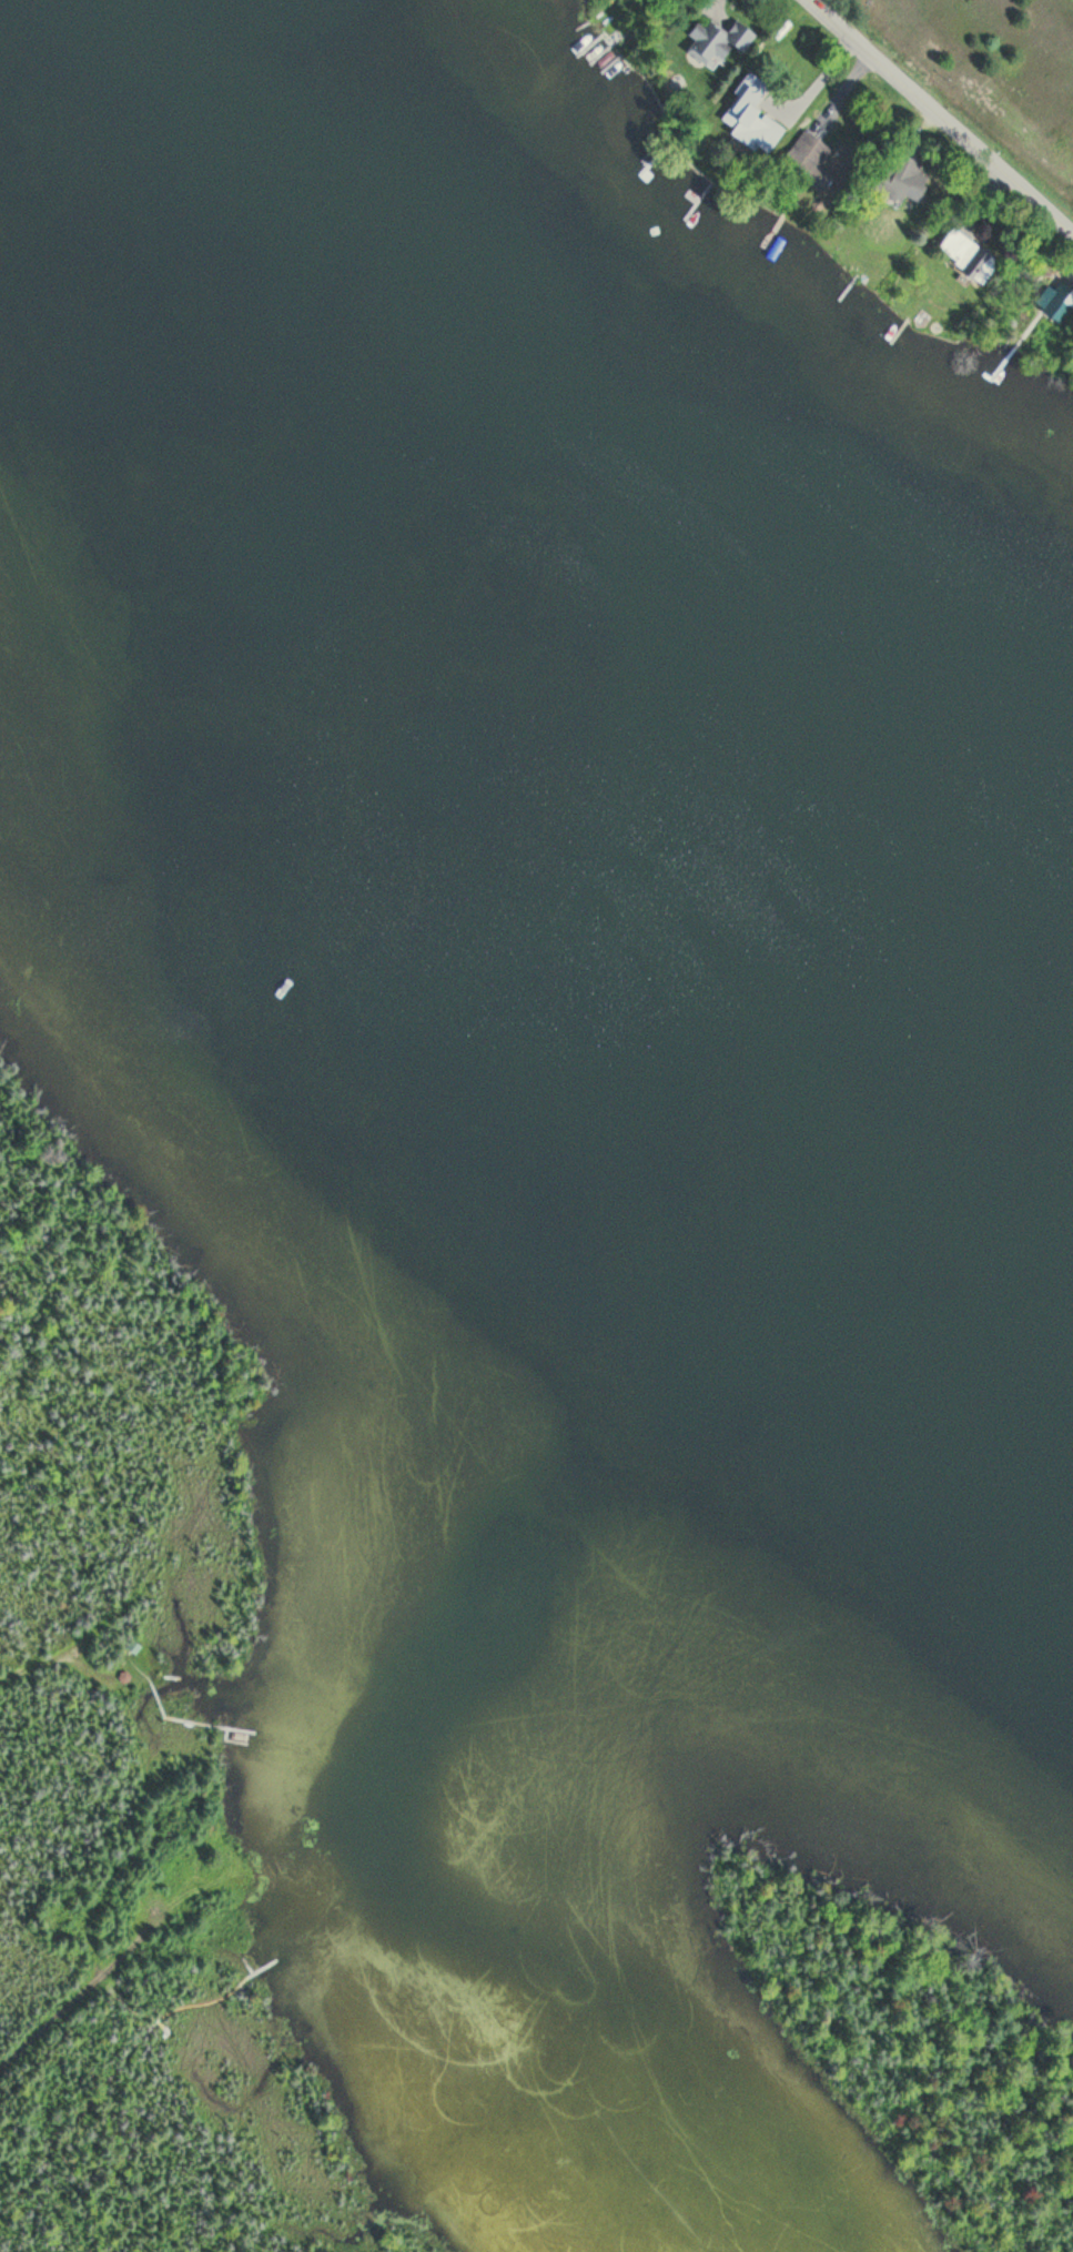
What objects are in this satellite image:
building: (718, 43)
building: (747, 113)
road: (938, 121)
building: (810, 160)
building: (968, 256)
road: (58, 2013)

